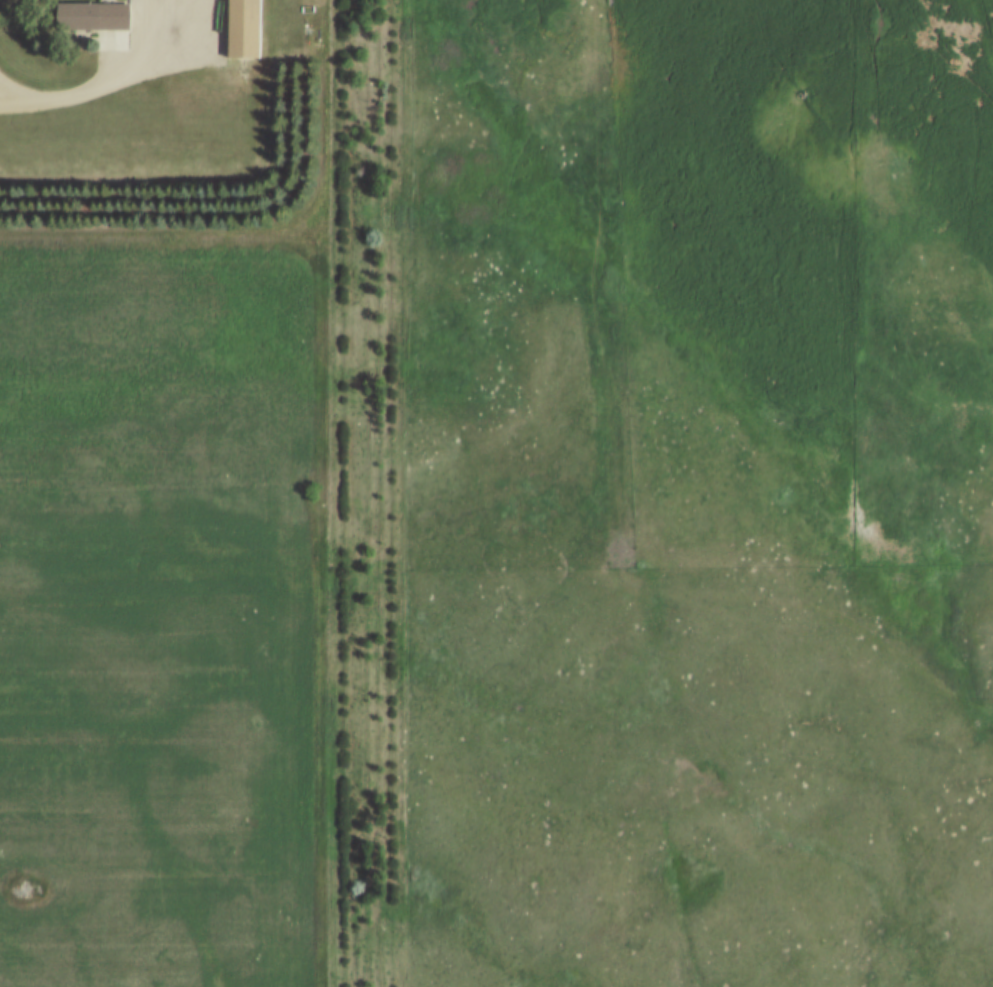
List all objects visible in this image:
building: (93, 16)
building: (245, 30)
road: (97, 79)

